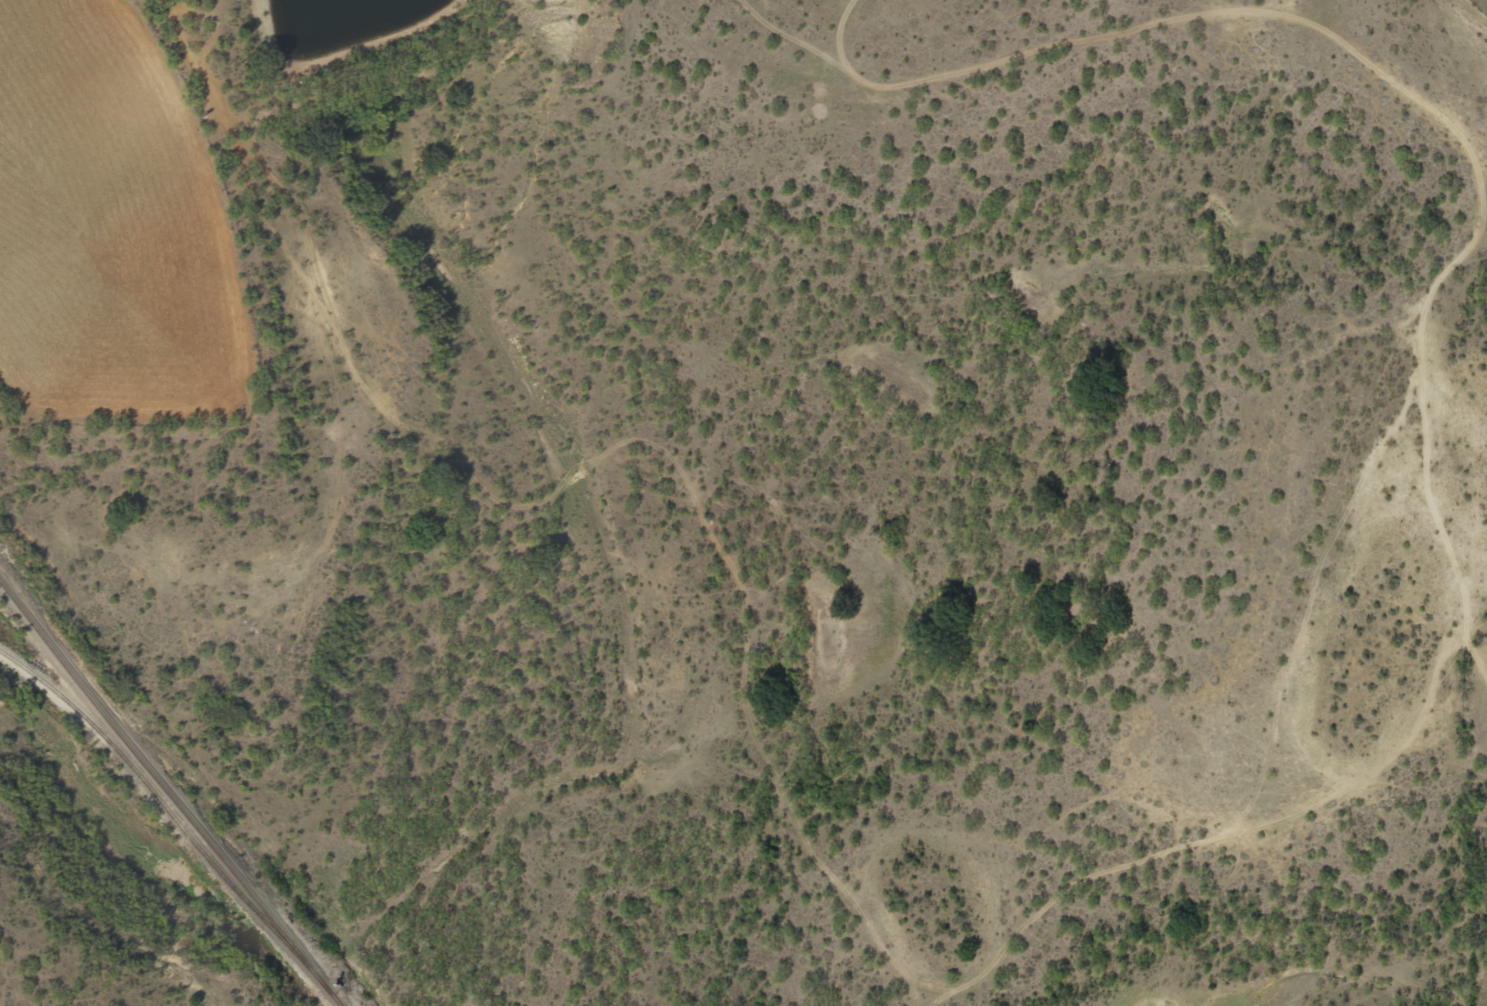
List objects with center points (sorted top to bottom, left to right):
road: (198, 25)
road: (499, 458)
railway: (159, 785)
railway: (168, 812)
railway: (332, 996)

